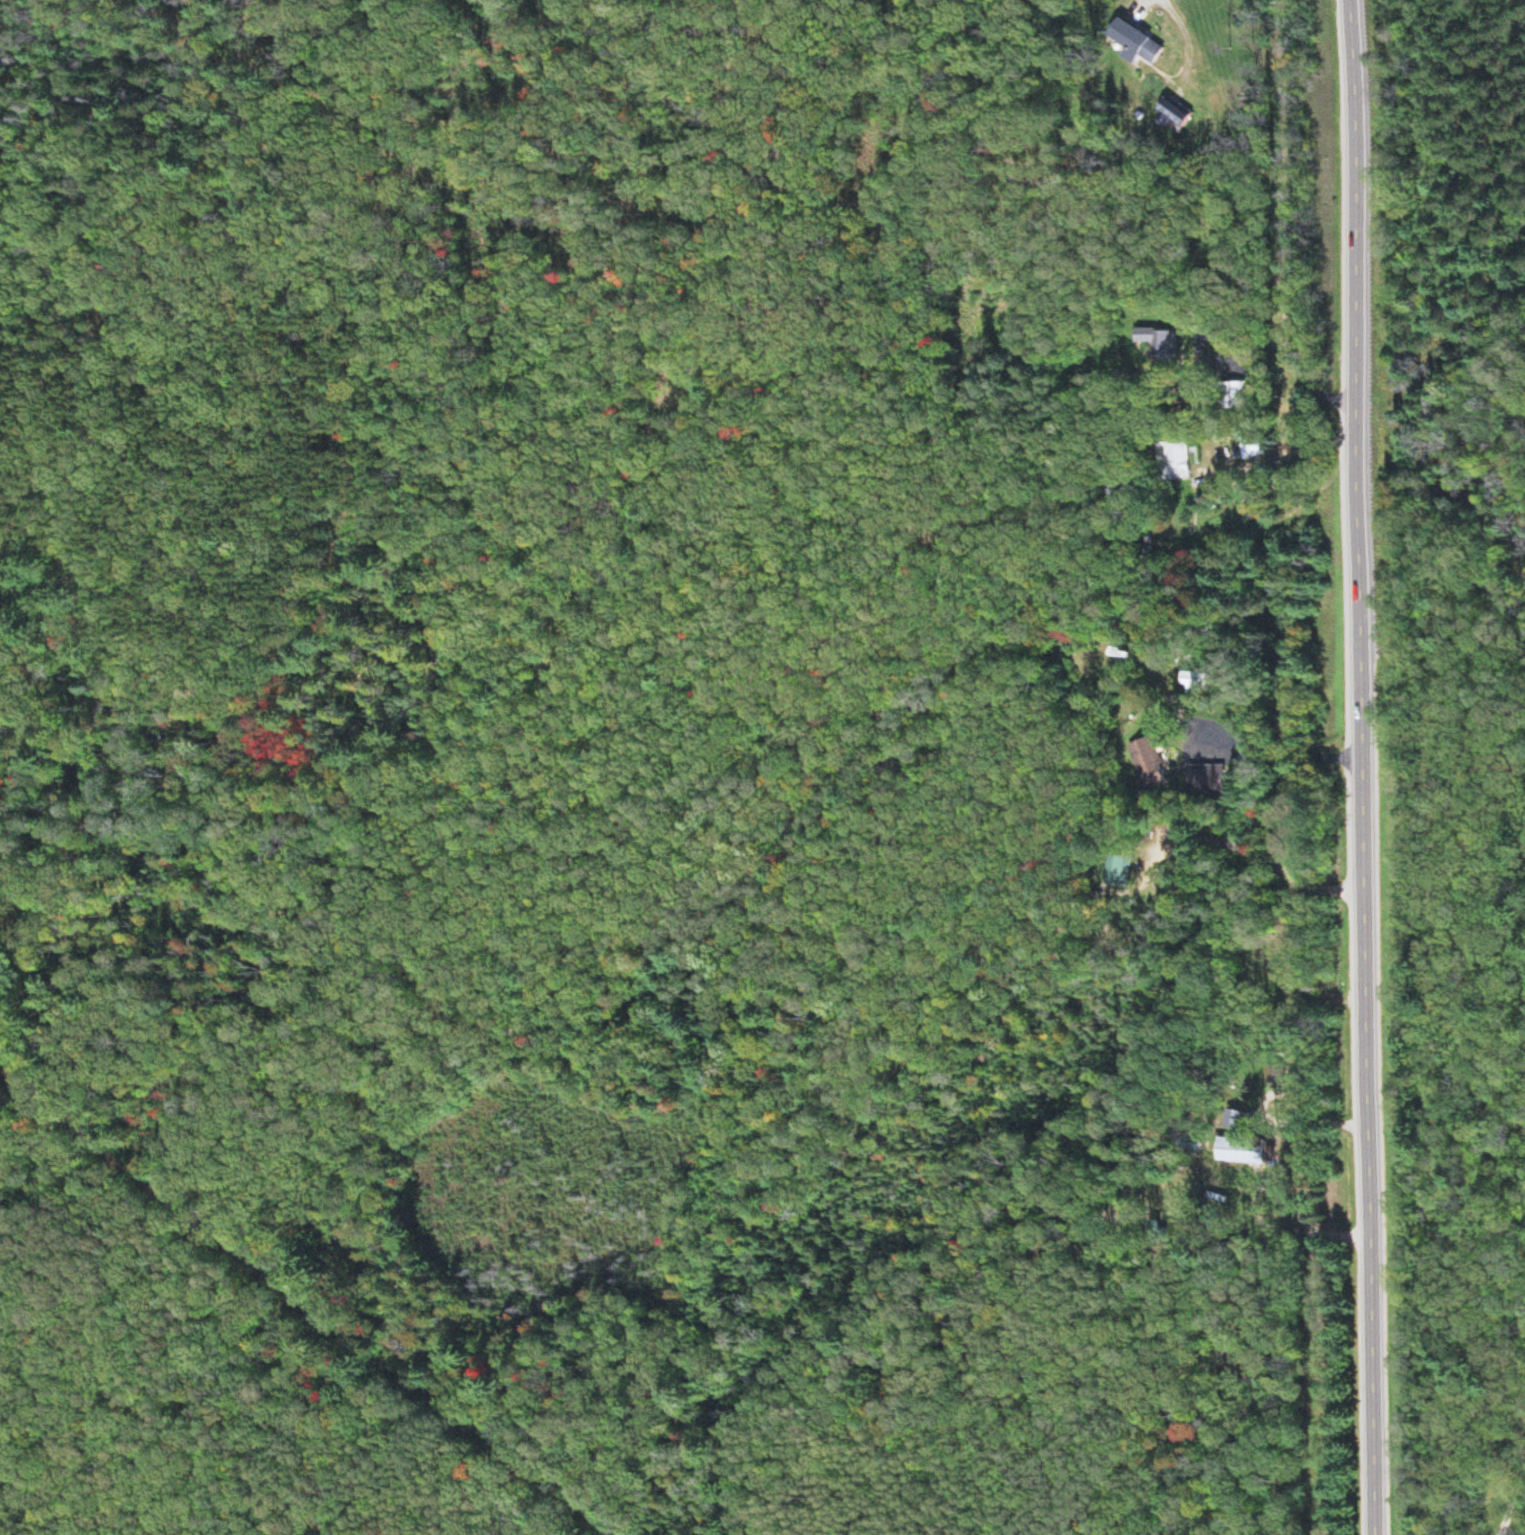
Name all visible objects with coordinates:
building: (1126, 38)
building: (1167, 109)
building: (1181, 348)
building: (1252, 450)
building: (1186, 454)
building: (1206, 683)
building: (1158, 759)
road: (1360, 767)
building: (1219, 780)
building: (1130, 868)
building: (1250, 1152)

